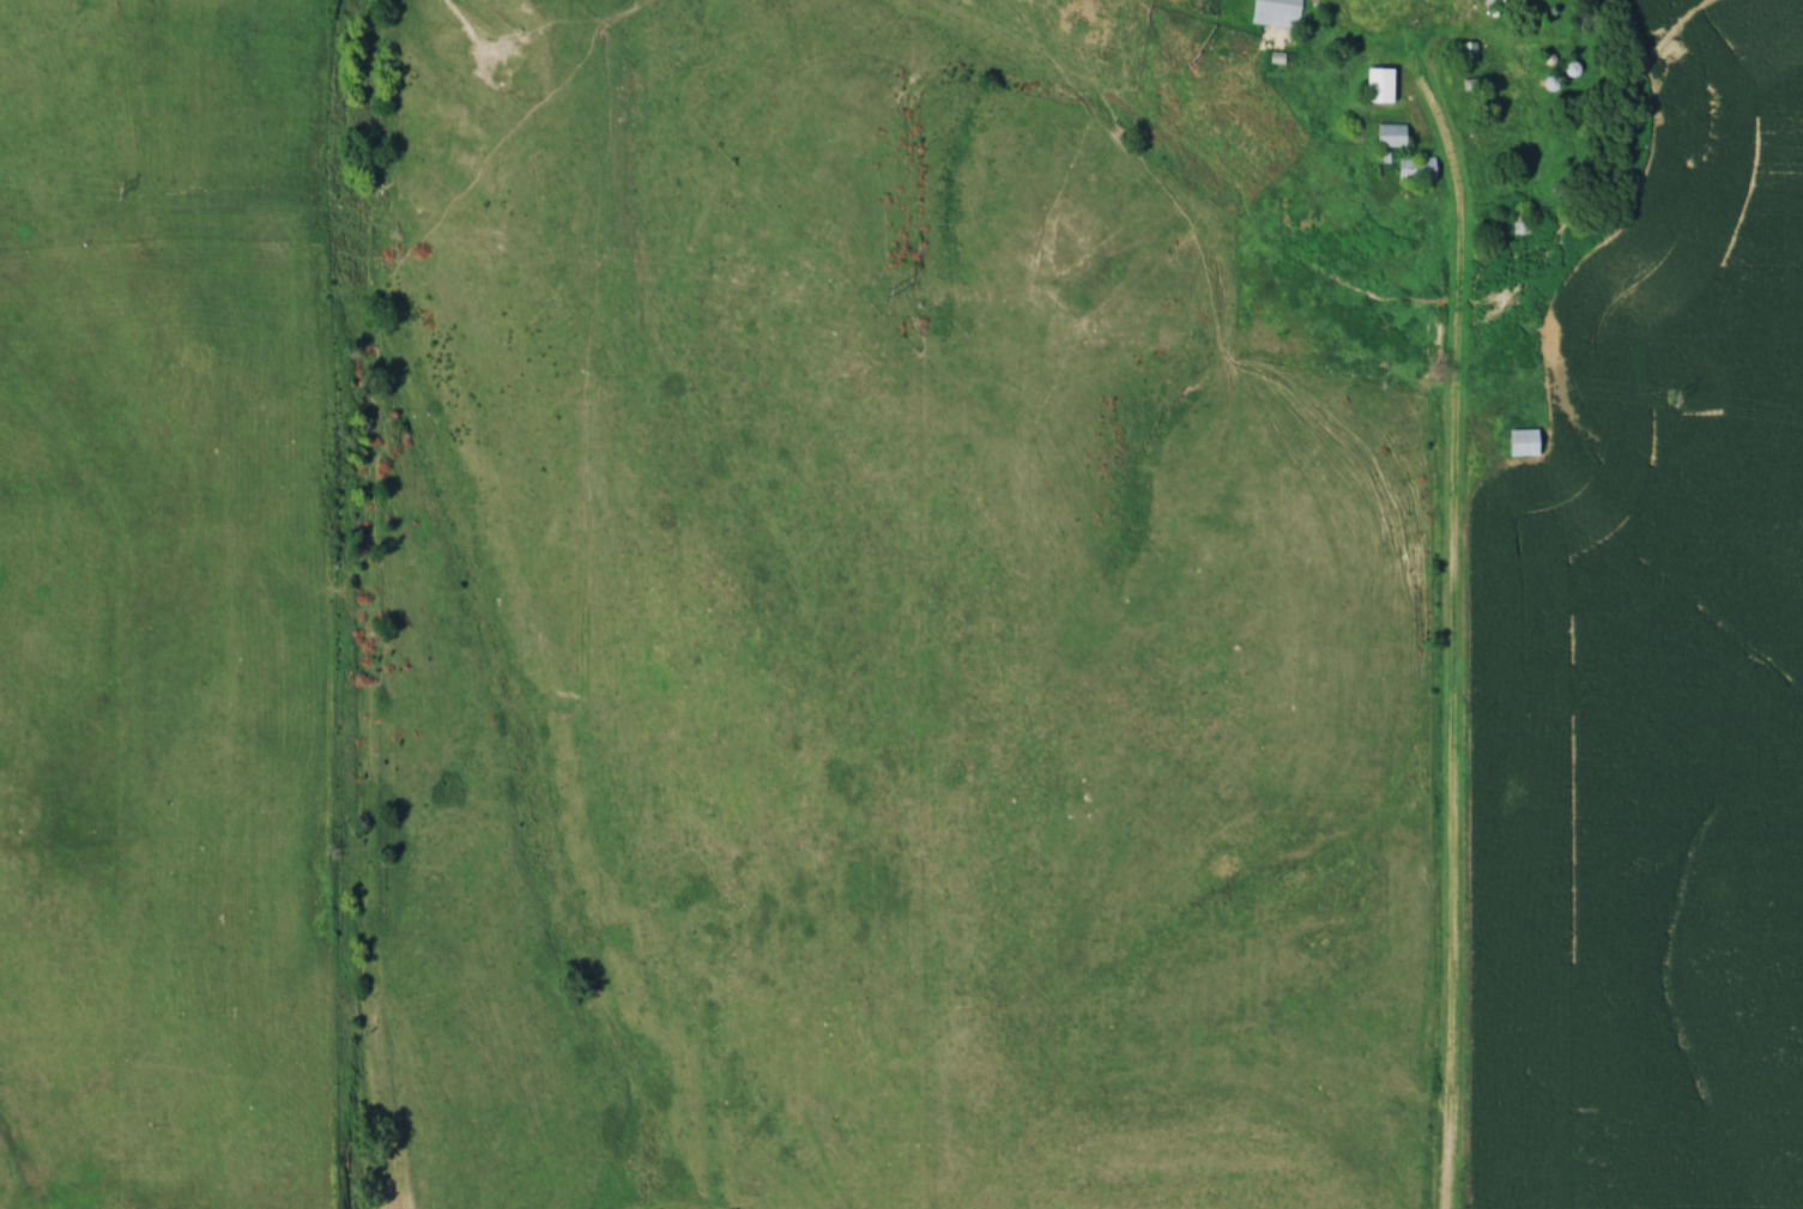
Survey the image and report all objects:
building: (1509, 0)
building: (1282, 13)
building: (1381, 83)
road: (1521, 89)
building: (1394, 133)
building: (1418, 168)
building: (1519, 220)
building: (1524, 441)
road: (1453, 711)
crop: (1640, 726)

